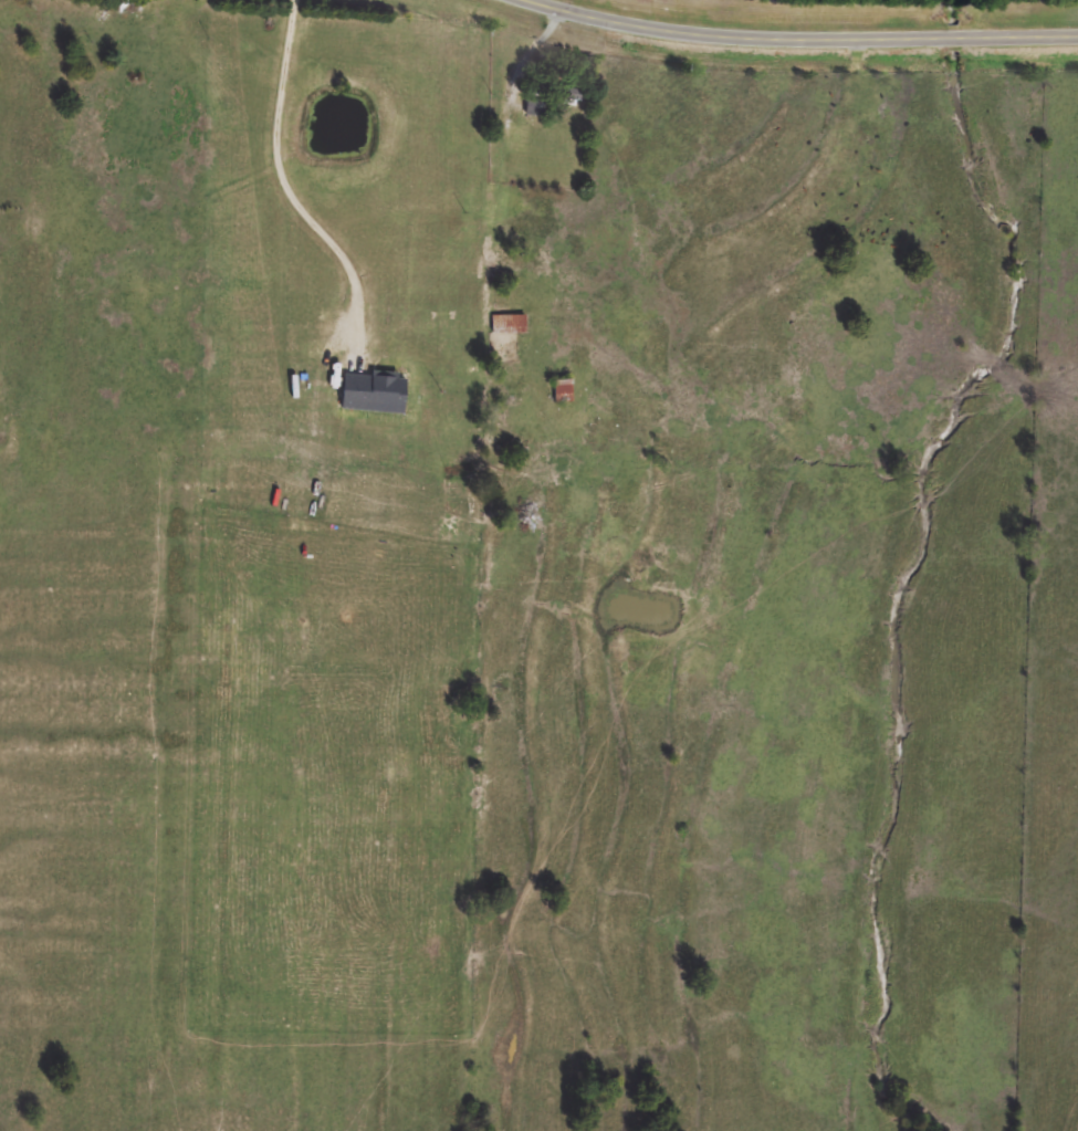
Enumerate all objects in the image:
building: (126, 12)
road: (802, 34)
building: (571, 98)
building: (535, 113)
road: (287, 186)
building: (510, 327)
building: (379, 395)
building: (565, 395)

